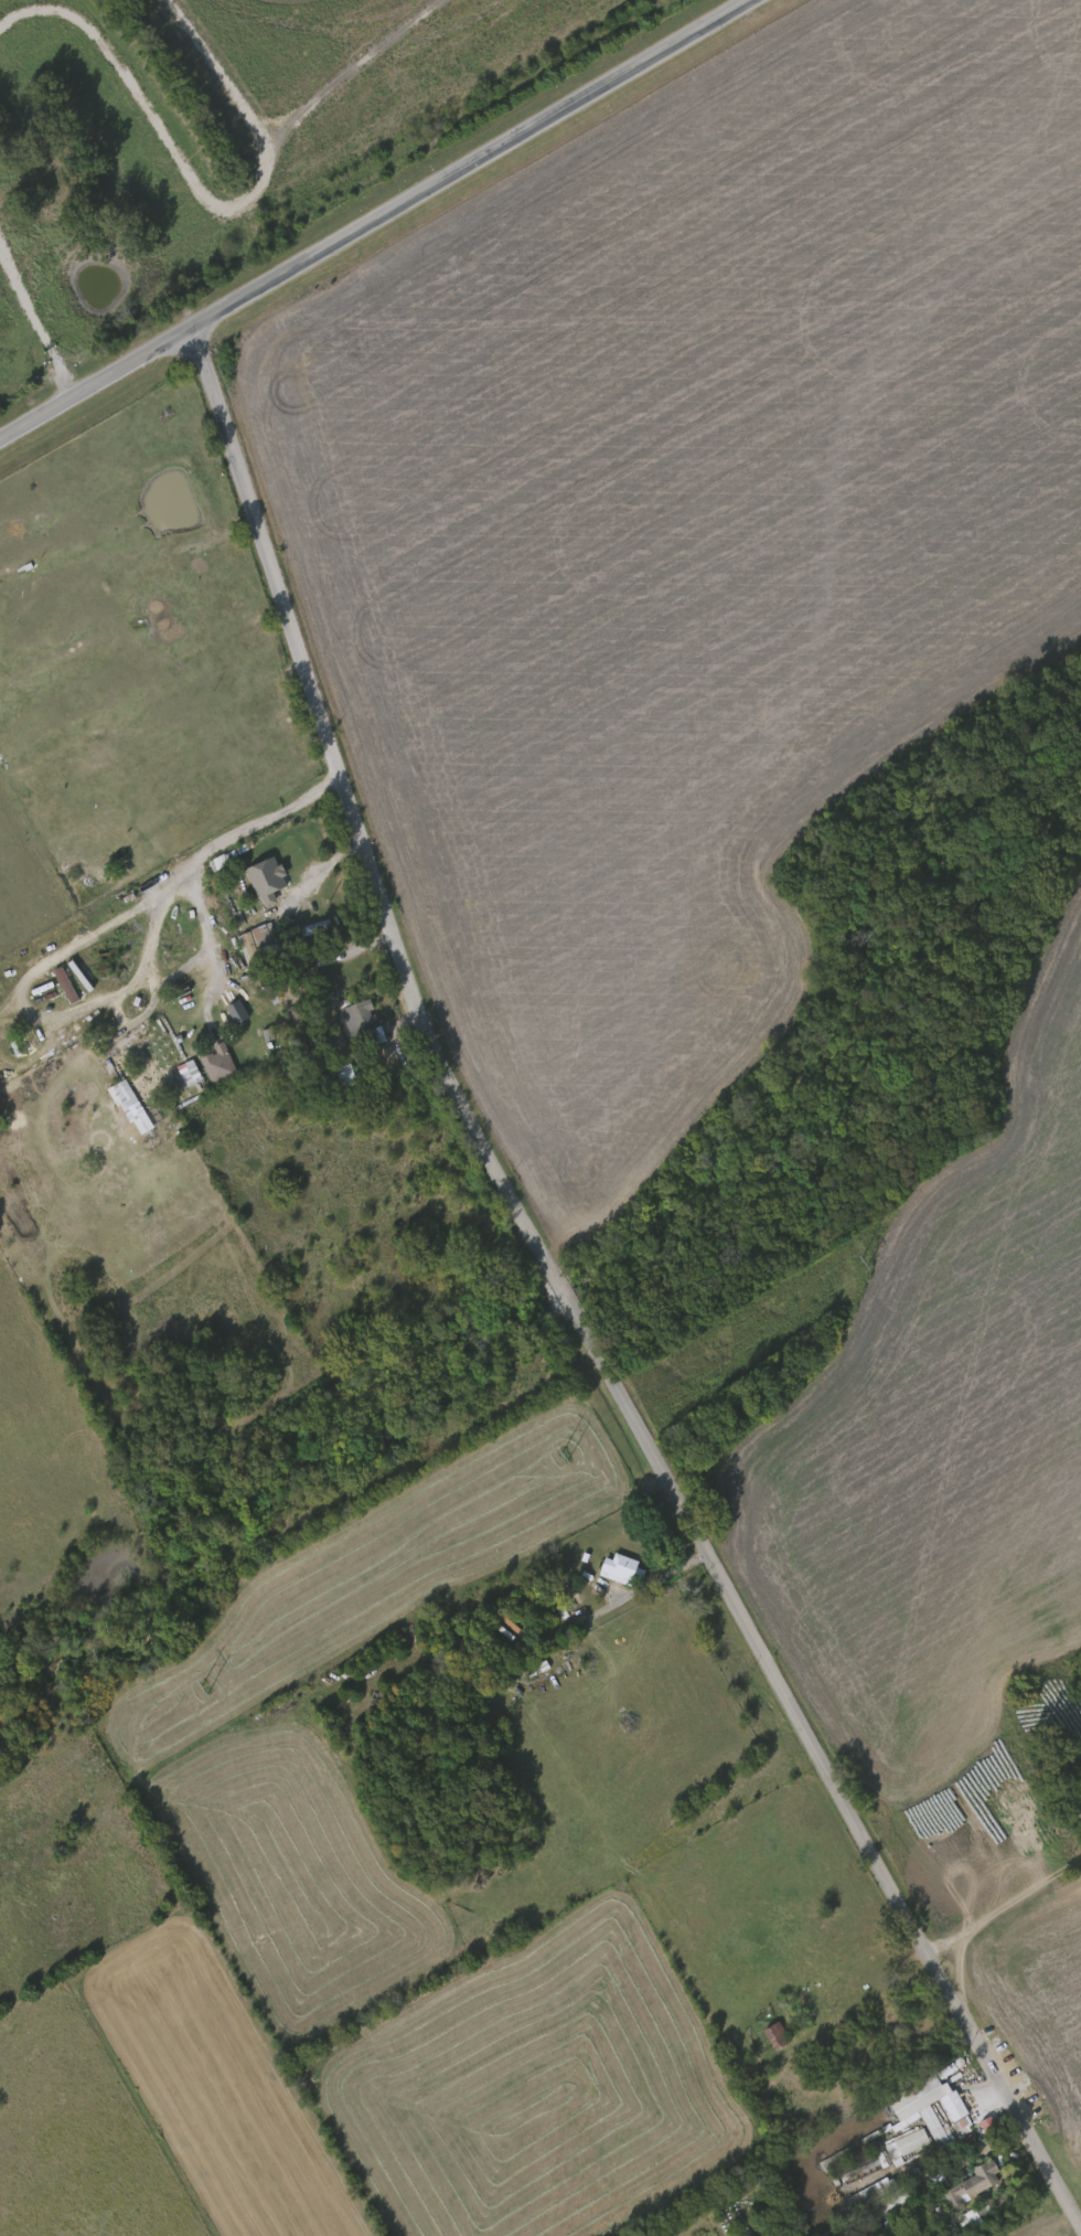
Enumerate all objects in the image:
road: (375, 220)
road: (212, 851)
road: (318, 874)
building: (267, 881)
building: (263, 943)
building: (65, 986)
building: (362, 1023)
building: (216, 1063)
building: (189, 1074)
building: (128, 1103)
power tower: (866, 1259)
road: (572, 1308)
power tower: (566, 1454)
building: (617, 1565)
road: (670, 1570)
power tower: (206, 1685)
building: (1073, 1802)
road: (1003, 1906)
building: (774, 2034)
building: (923, 2086)
building: (952, 2105)
building: (932, 2126)
building: (907, 2146)
building: (858, 2165)
building: (974, 2182)
building: (865, 2193)
building: (889, 2200)

